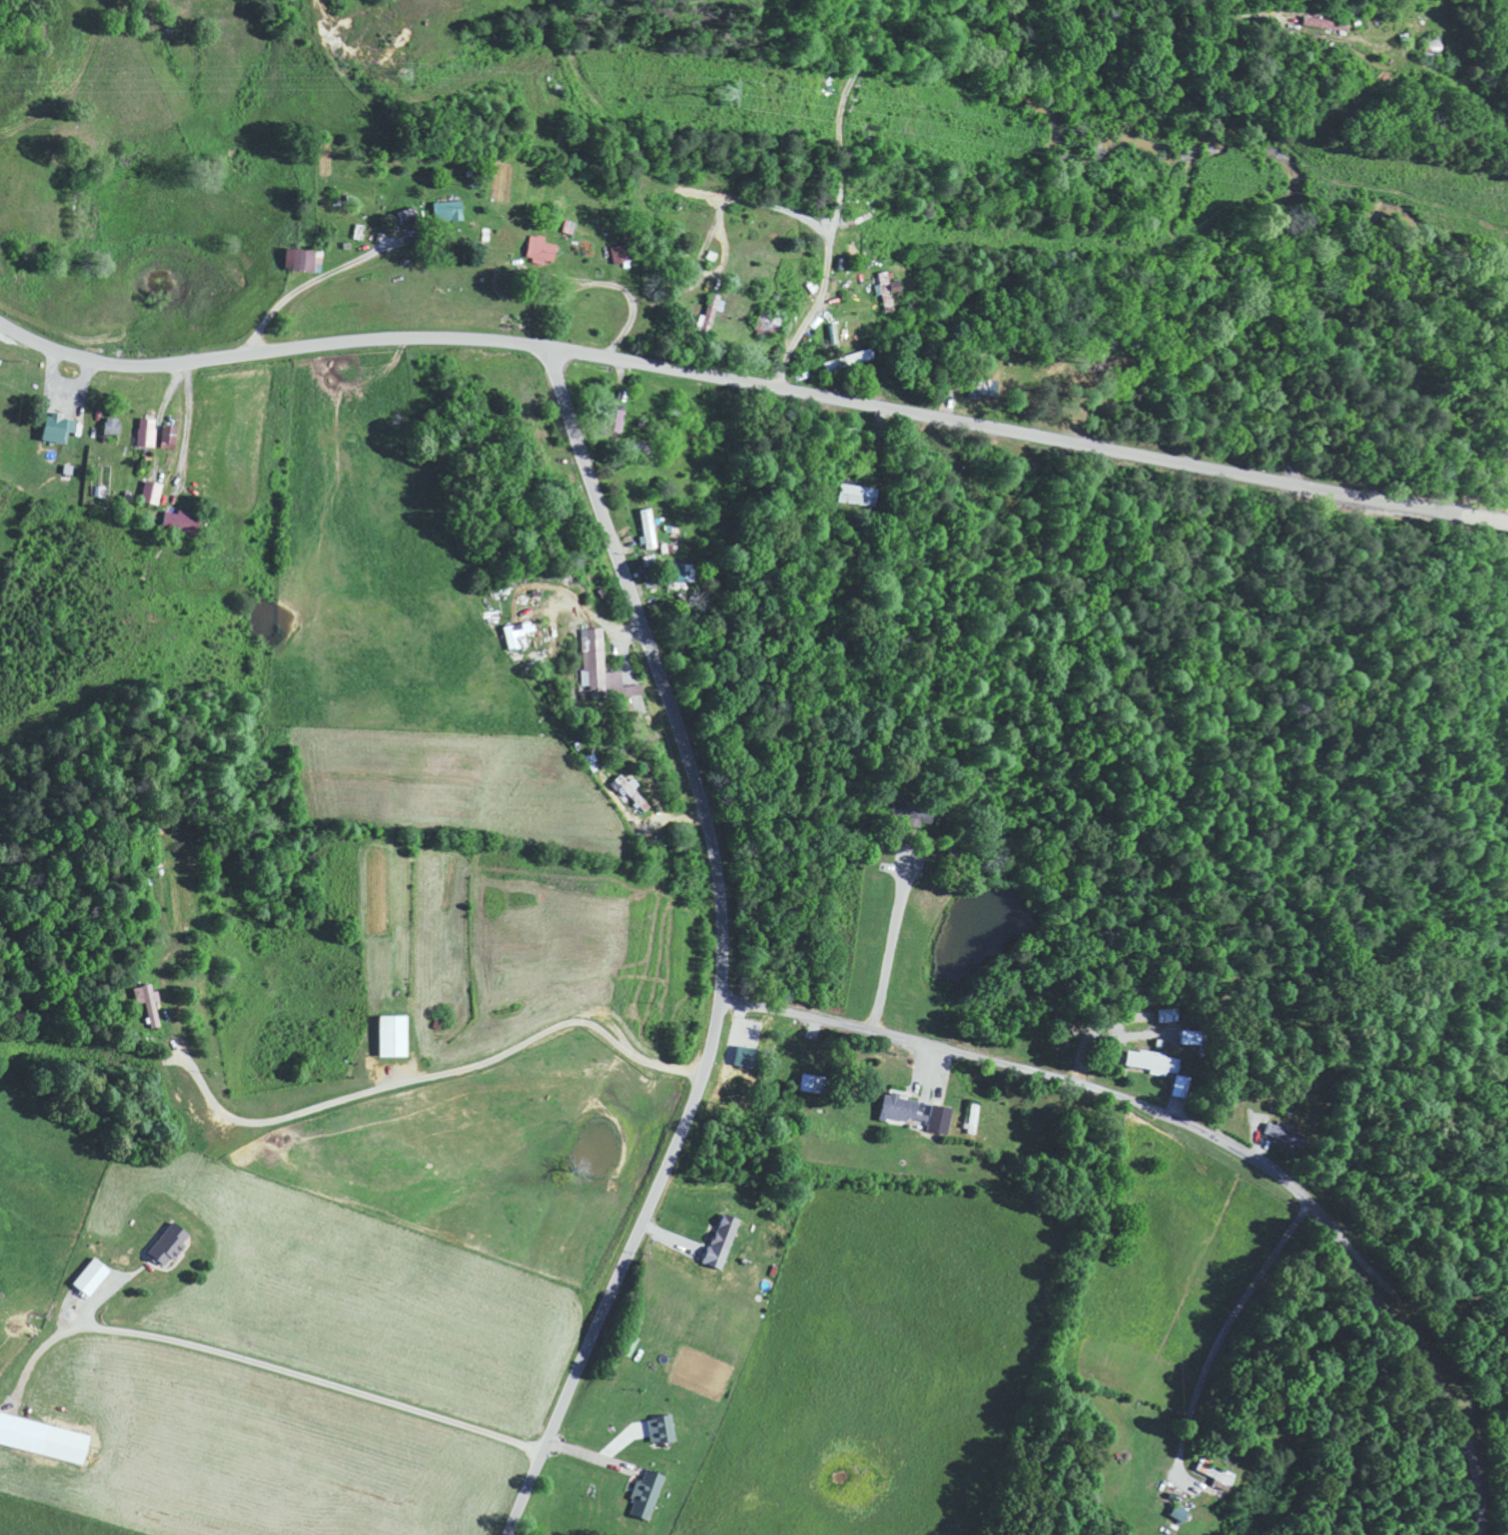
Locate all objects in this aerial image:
building: (1332, 22)
building: (451, 211)
building: (542, 250)
building: (622, 254)
building: (303, 259)
building: (887, 290)
building: (710, 315)
road: (753, 383)
building: (114, 426)
building: (60, 428)
building: (148, 432)
building: (171, 434)
road: (176, 488)
building: (153, 492)
building: (184, 522)
building: (603, 668)
building: (627, 789)
road: (721, 949)
building: (395, 1036)
building: (748, 1058)
building: (1154, 1062)
building: (815, 1084)
building: (1181, 1087)
building: (919, 1113)
road: (1204, 1132)
road: (400, 1134)
building: (1286, 1134)
building: (724, 1240)
building: (170, 1242)
building: (94, 1276)
road: (1234, 1351)
road: (324, 1360)
building: (663, 1429)
building: (44, 1438)
building: (648, 1493)

